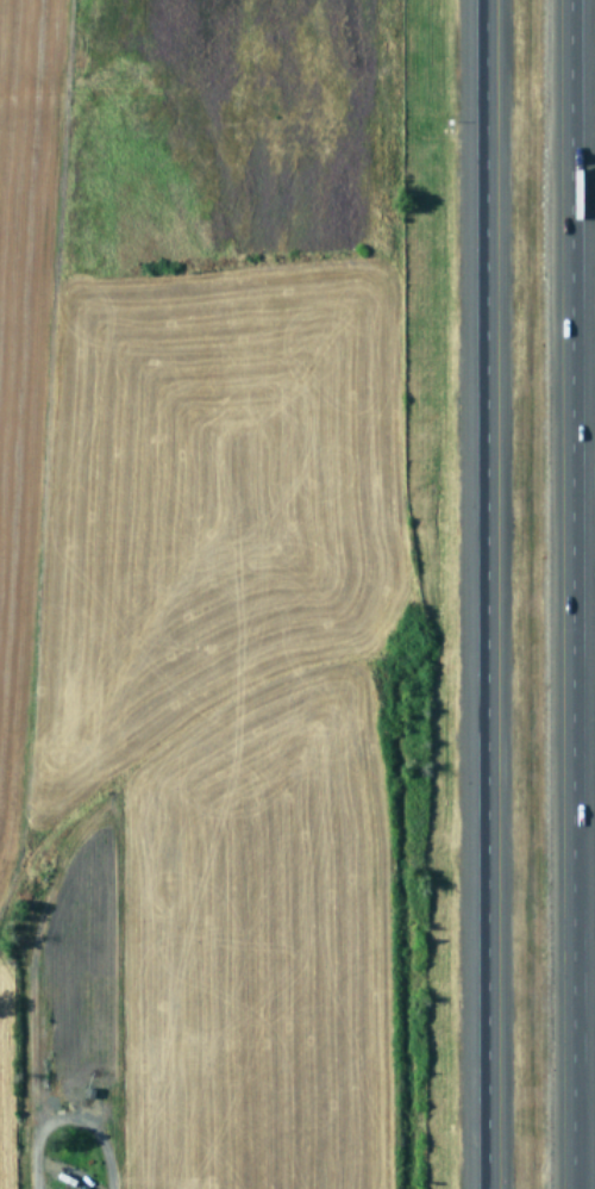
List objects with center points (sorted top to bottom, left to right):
crop: (187, 390)
road: (487, 593)
road: (569, 594)
road: (67, 1116)

